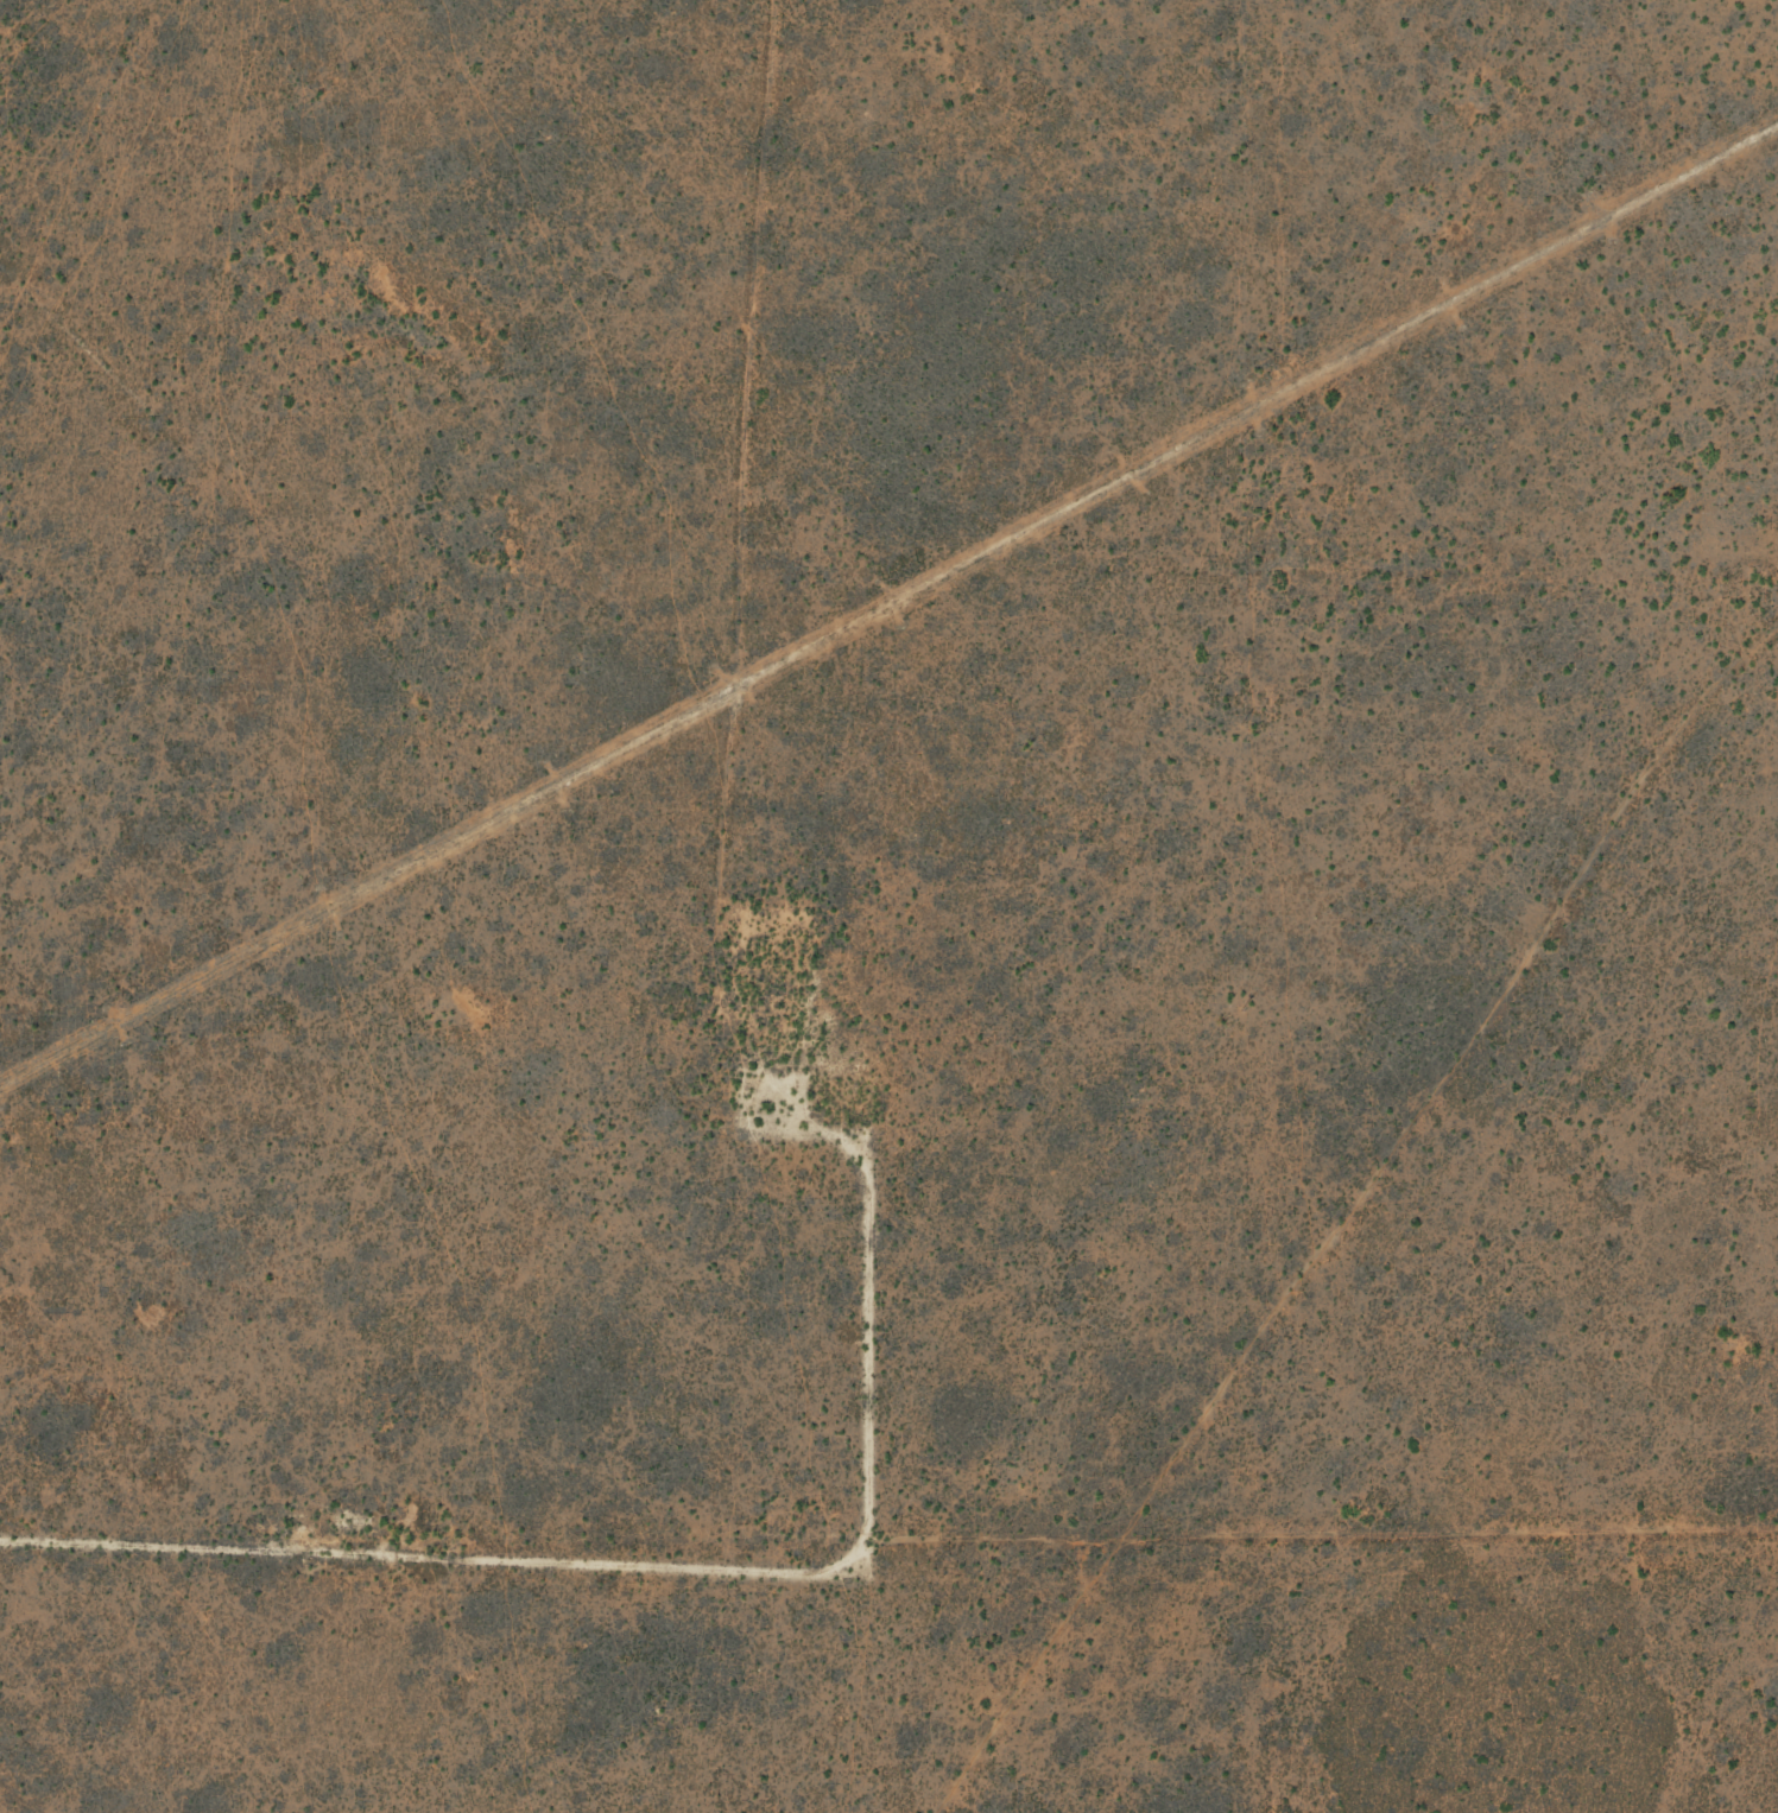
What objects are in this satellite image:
road: (877, 1181)
road: (1103, 1558)

